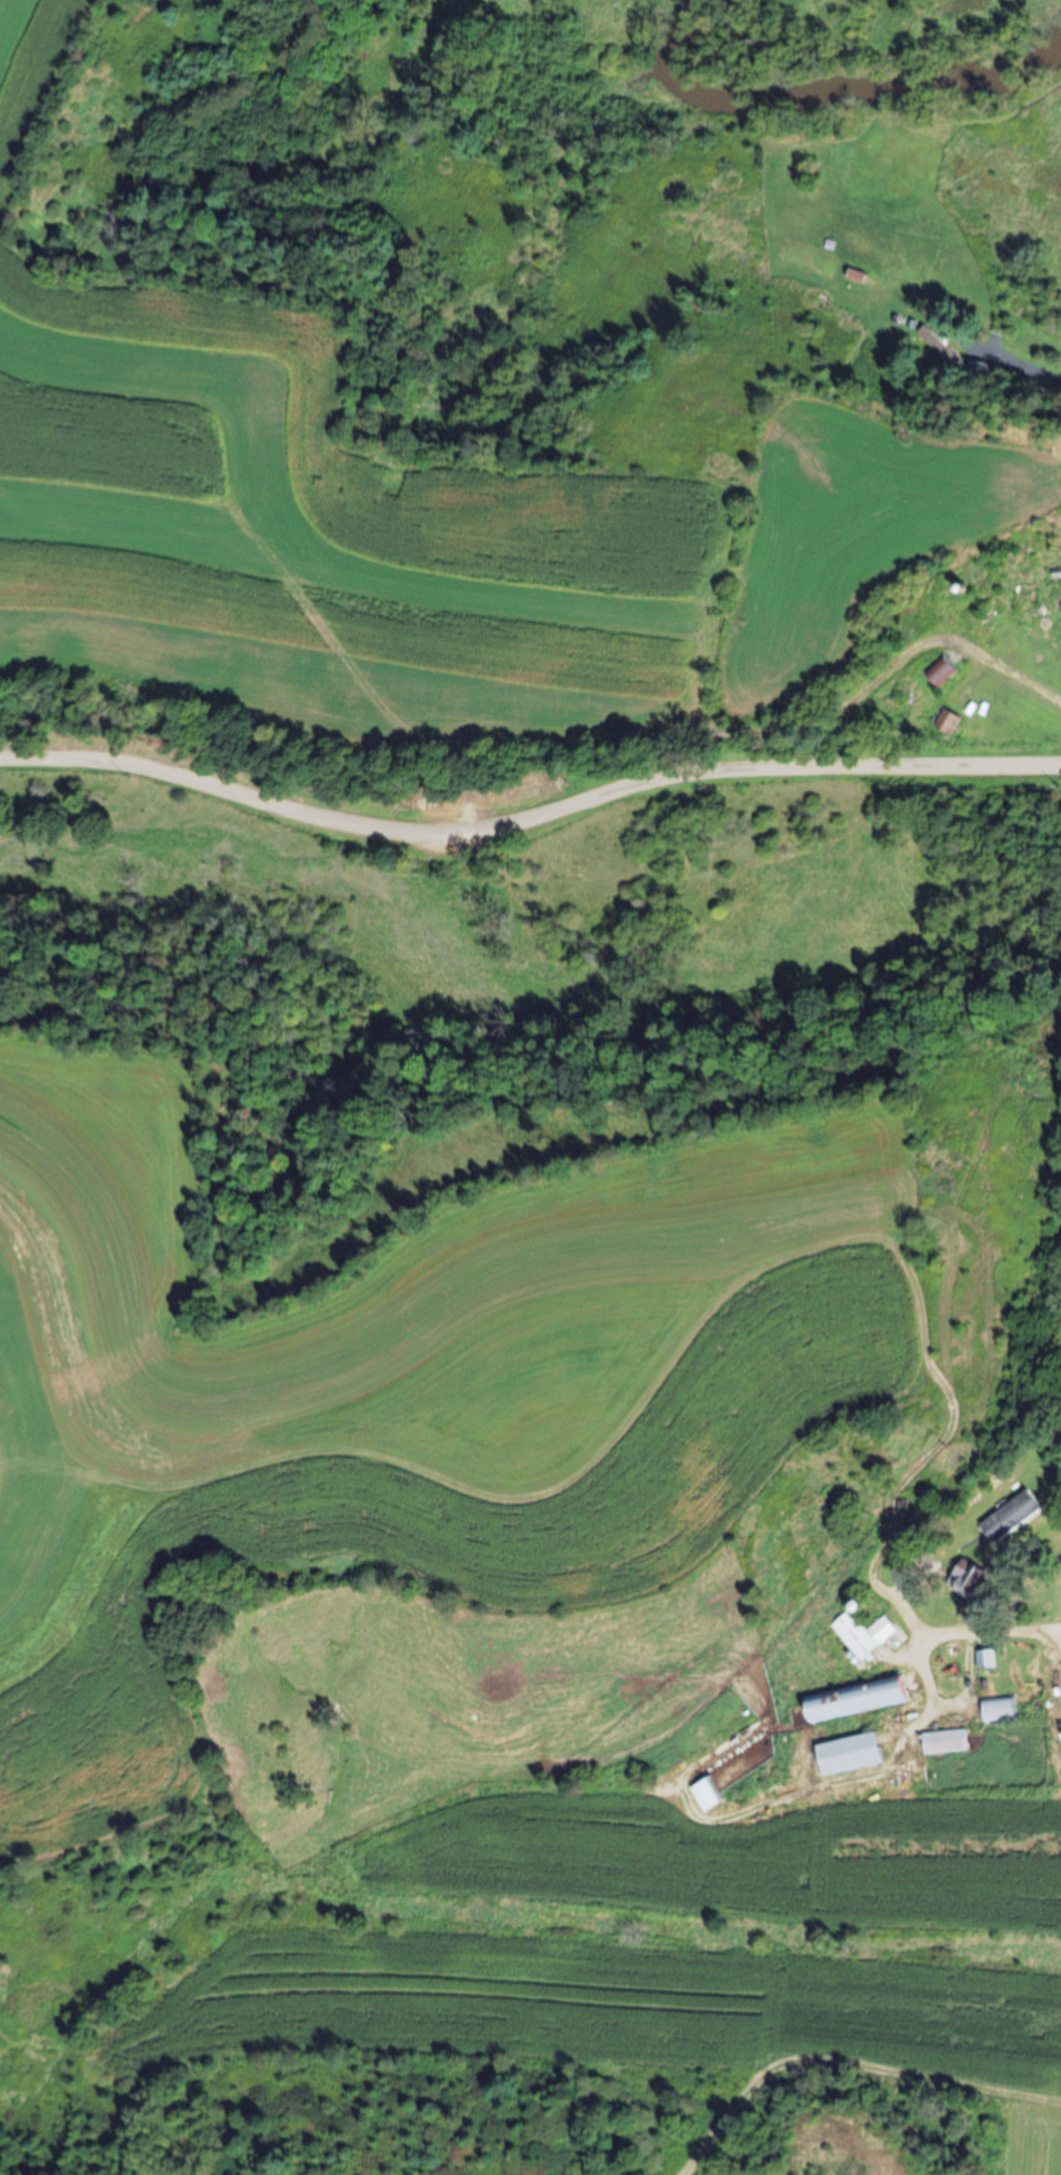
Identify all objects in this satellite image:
river: (825, 91)
building: (859, 275)
building: (1057, 602)
building: (943, 673)
road: (529, 818)
building: (1011, 1517)
building: (970, 1581)
building: (865, 1634)
building: (987, 1659)
building: (856, 1699)
building: (1000, 1710)
building: (947, 1742)
building: (850, 1754)
building: (708, 1794)

